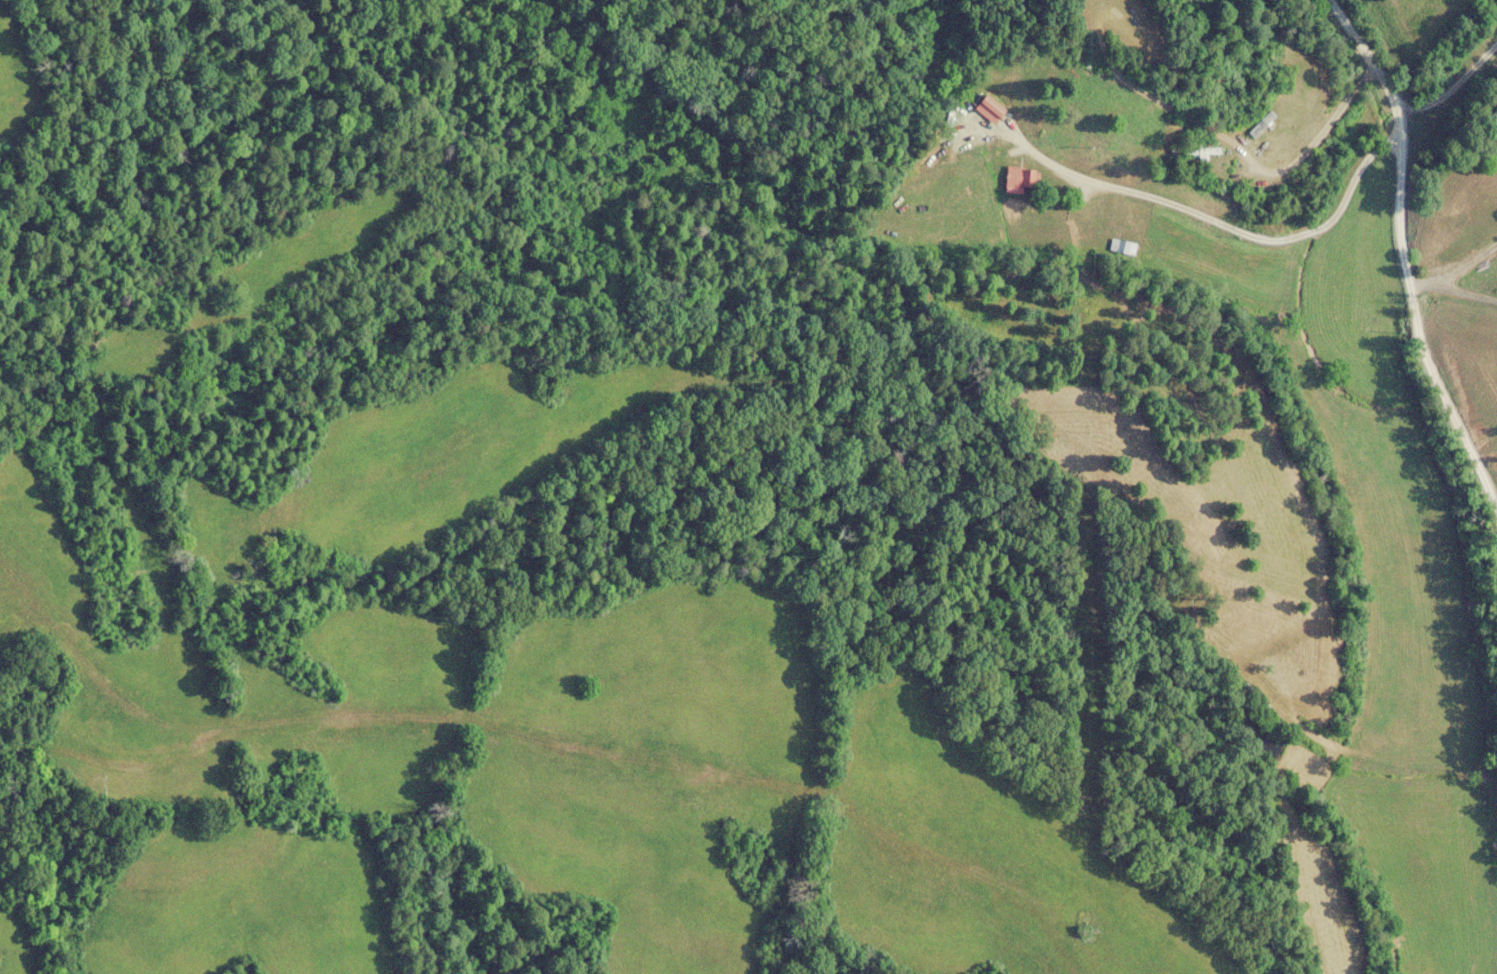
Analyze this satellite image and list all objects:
building: (992, 110)
building: (1263, 124)
building: (1019, 180)
road: (1408, 268)

